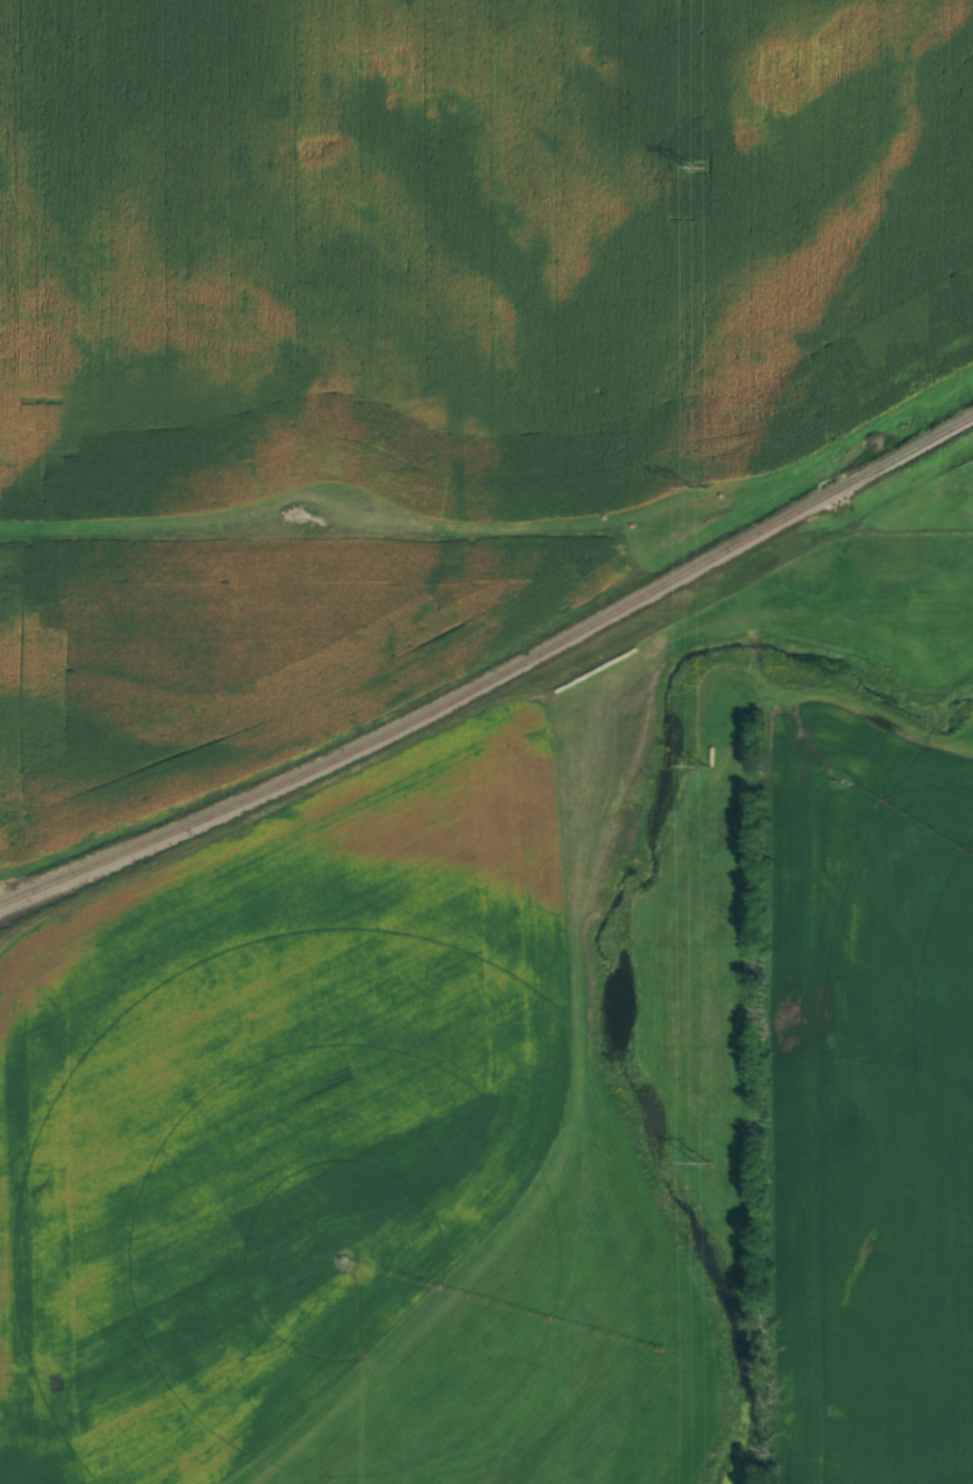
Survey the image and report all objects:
power tower: (698, 166)
power tower: (698, 489)
railway: (495, 681)
power tower: (700, 768)
power tower: (703, 1165)

